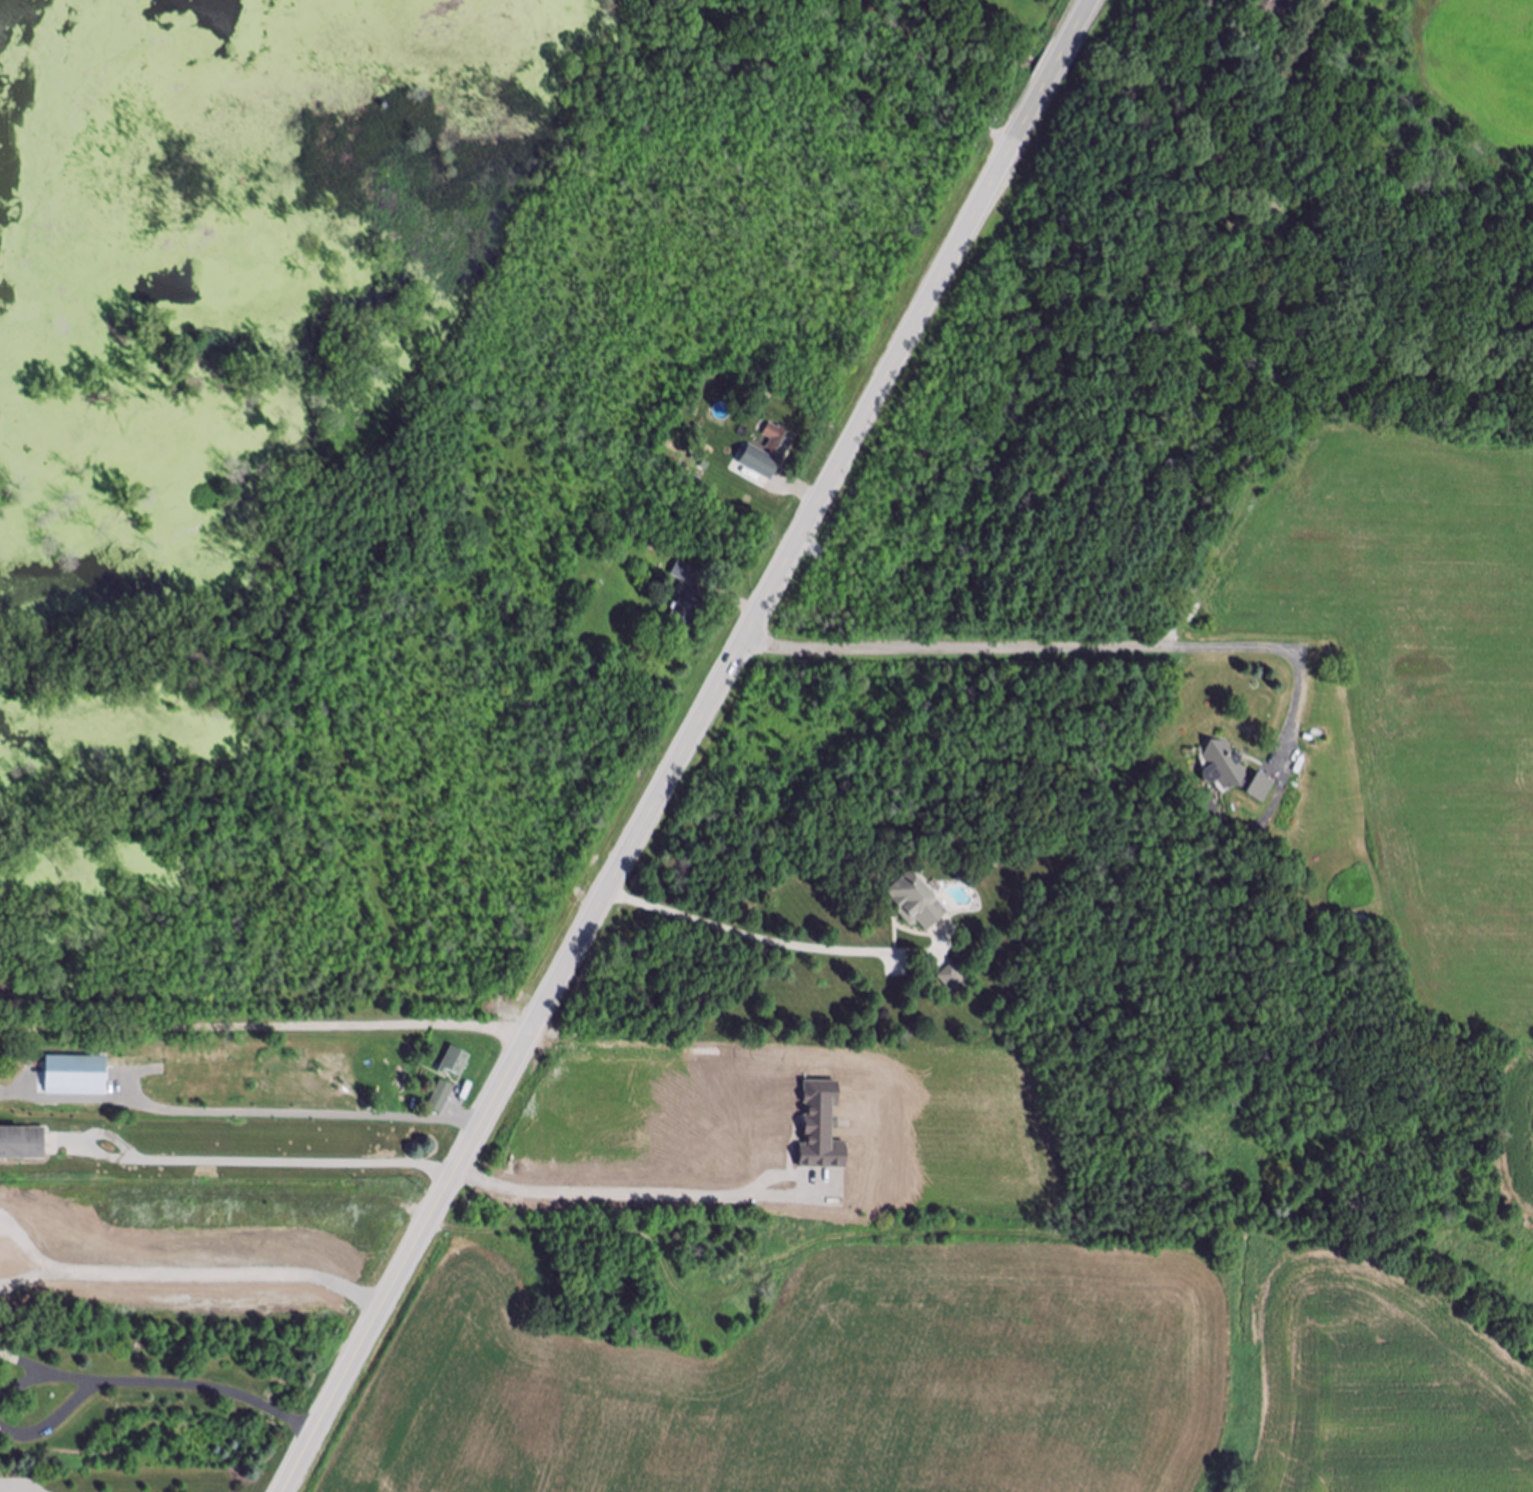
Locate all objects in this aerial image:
building: (1267, 7)
park: (1266, 79)
building: (779, 442)
building: (760, 465)
road: (810, 520)
building: (685, 576)
building: (689, 610)
road: (1026, 645)
road: (1307, 698)
building: (1222, 768)
building: (1260, 791)
building: (915, 905)
road: (770, 941)
building: (952, 981)
road: (267, 1020)
building: (455, 1063)
building: (76, 1075)
building: (441, 1097)
road: (491, 1108)
road: (296, 1116)
building: (820, 1127)
crop: (1517, 1129)
building: (24, 1146)
road: (233, 1163)
road: (630, 1196)
road: (31, 1247)
road: (226, 1273)
road: (30, 1279)
road: (368, 1334)
building: (672, 1337)
crop: (929, 1365)
road: (166, 1385)
road: (40, 1484)

